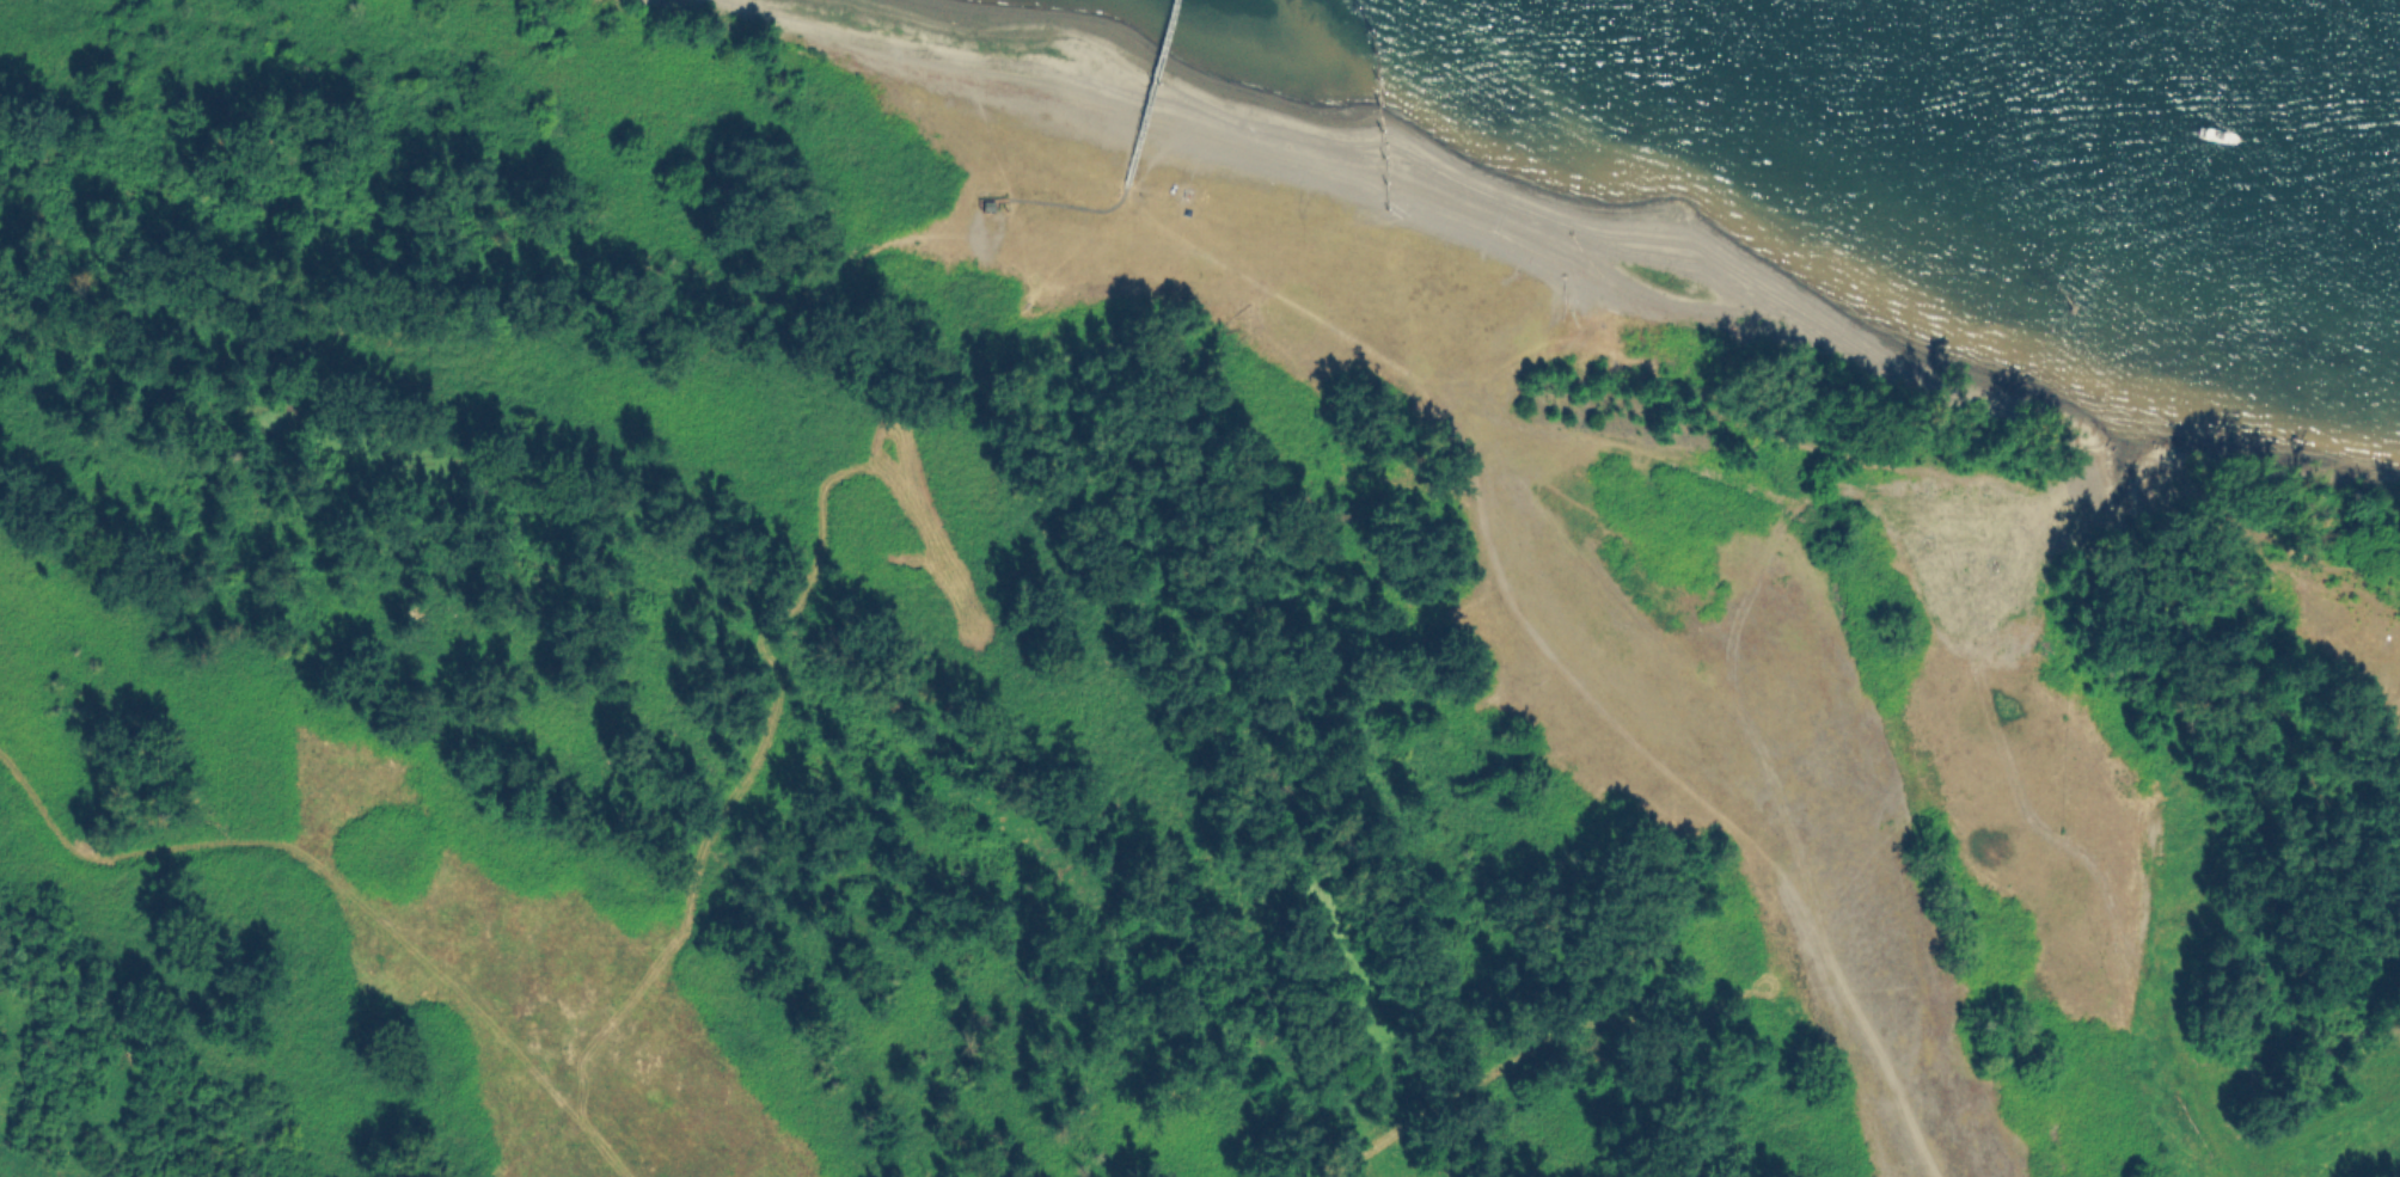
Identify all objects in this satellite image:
pier: (1149, 88)

